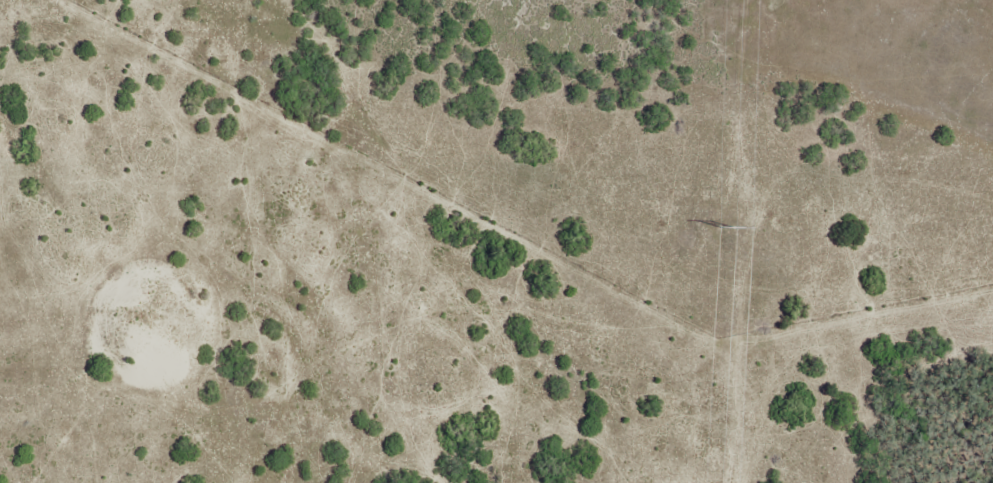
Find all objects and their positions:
power tower: (730, 227)

